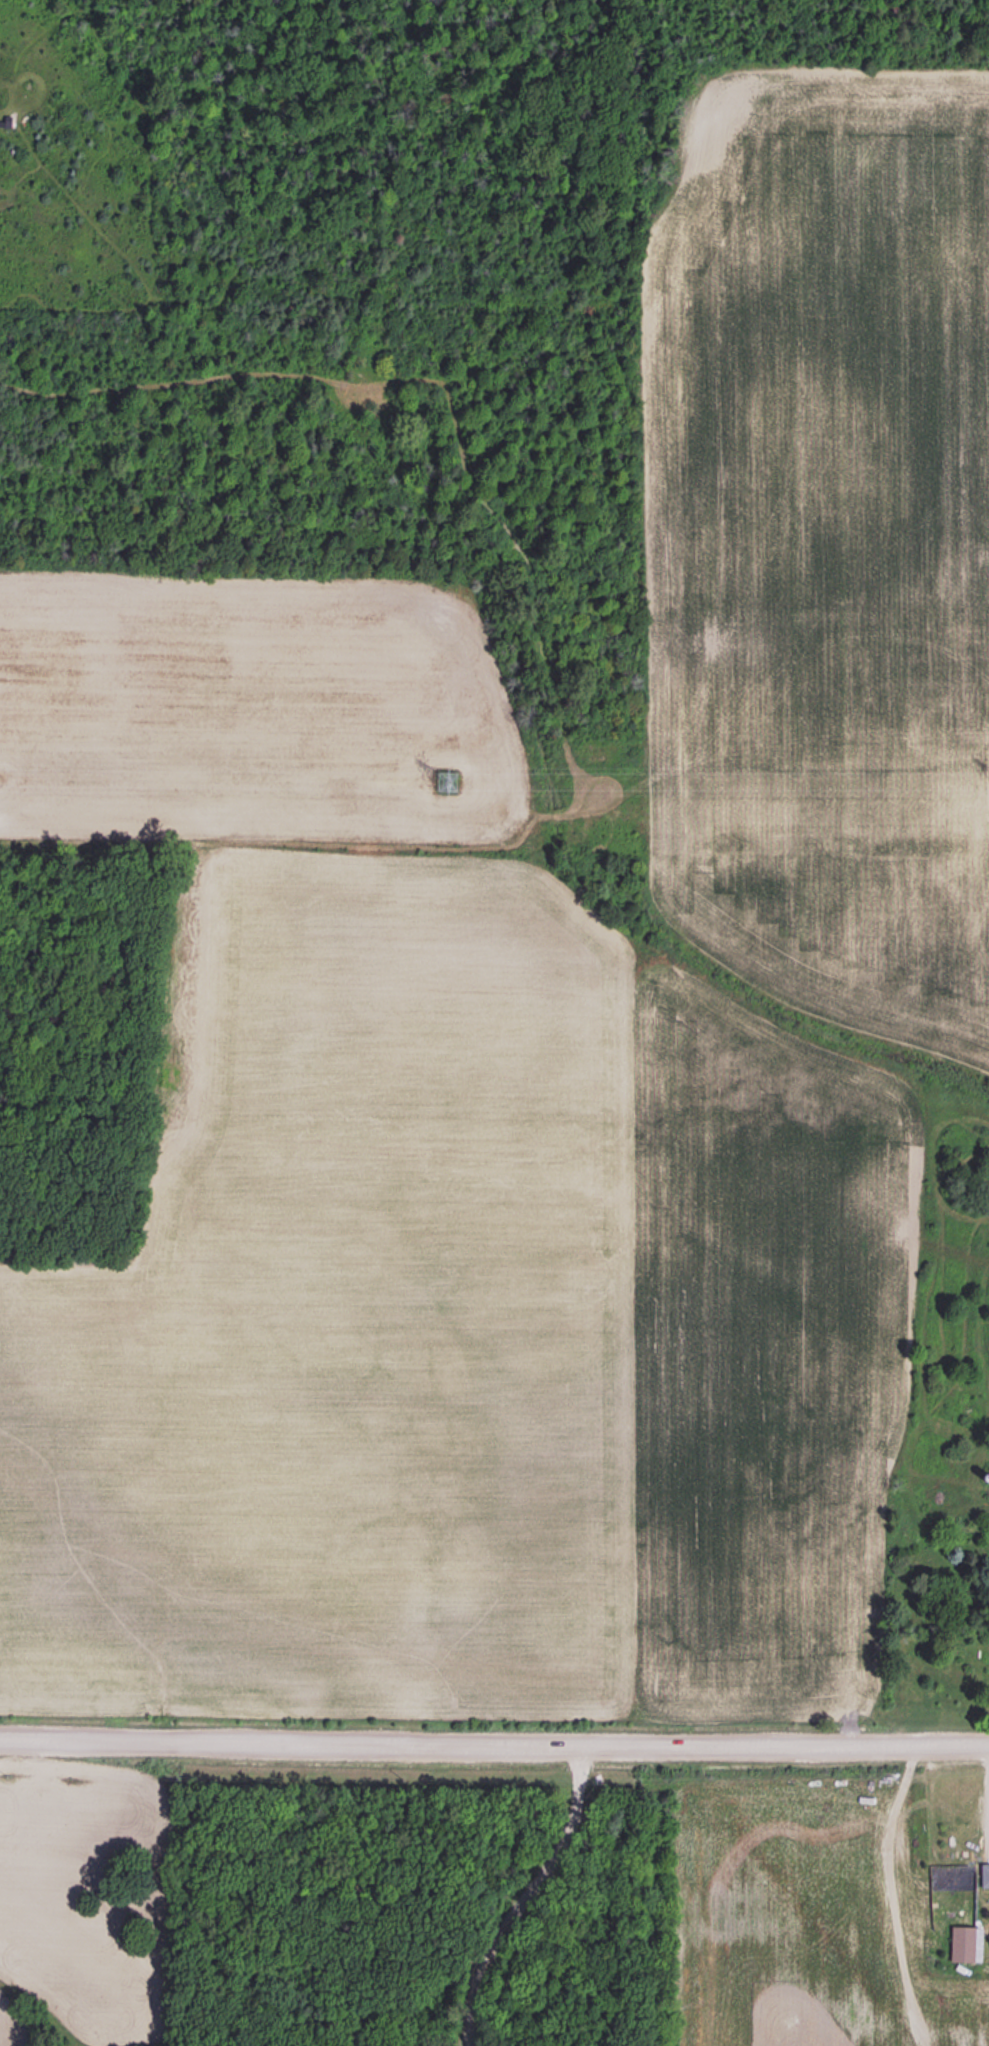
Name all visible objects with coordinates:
power tower: (446, 781)
road: (494, 1743)
building: (984, 1873)
road: (528, 1894)
building: (963, 1943)

